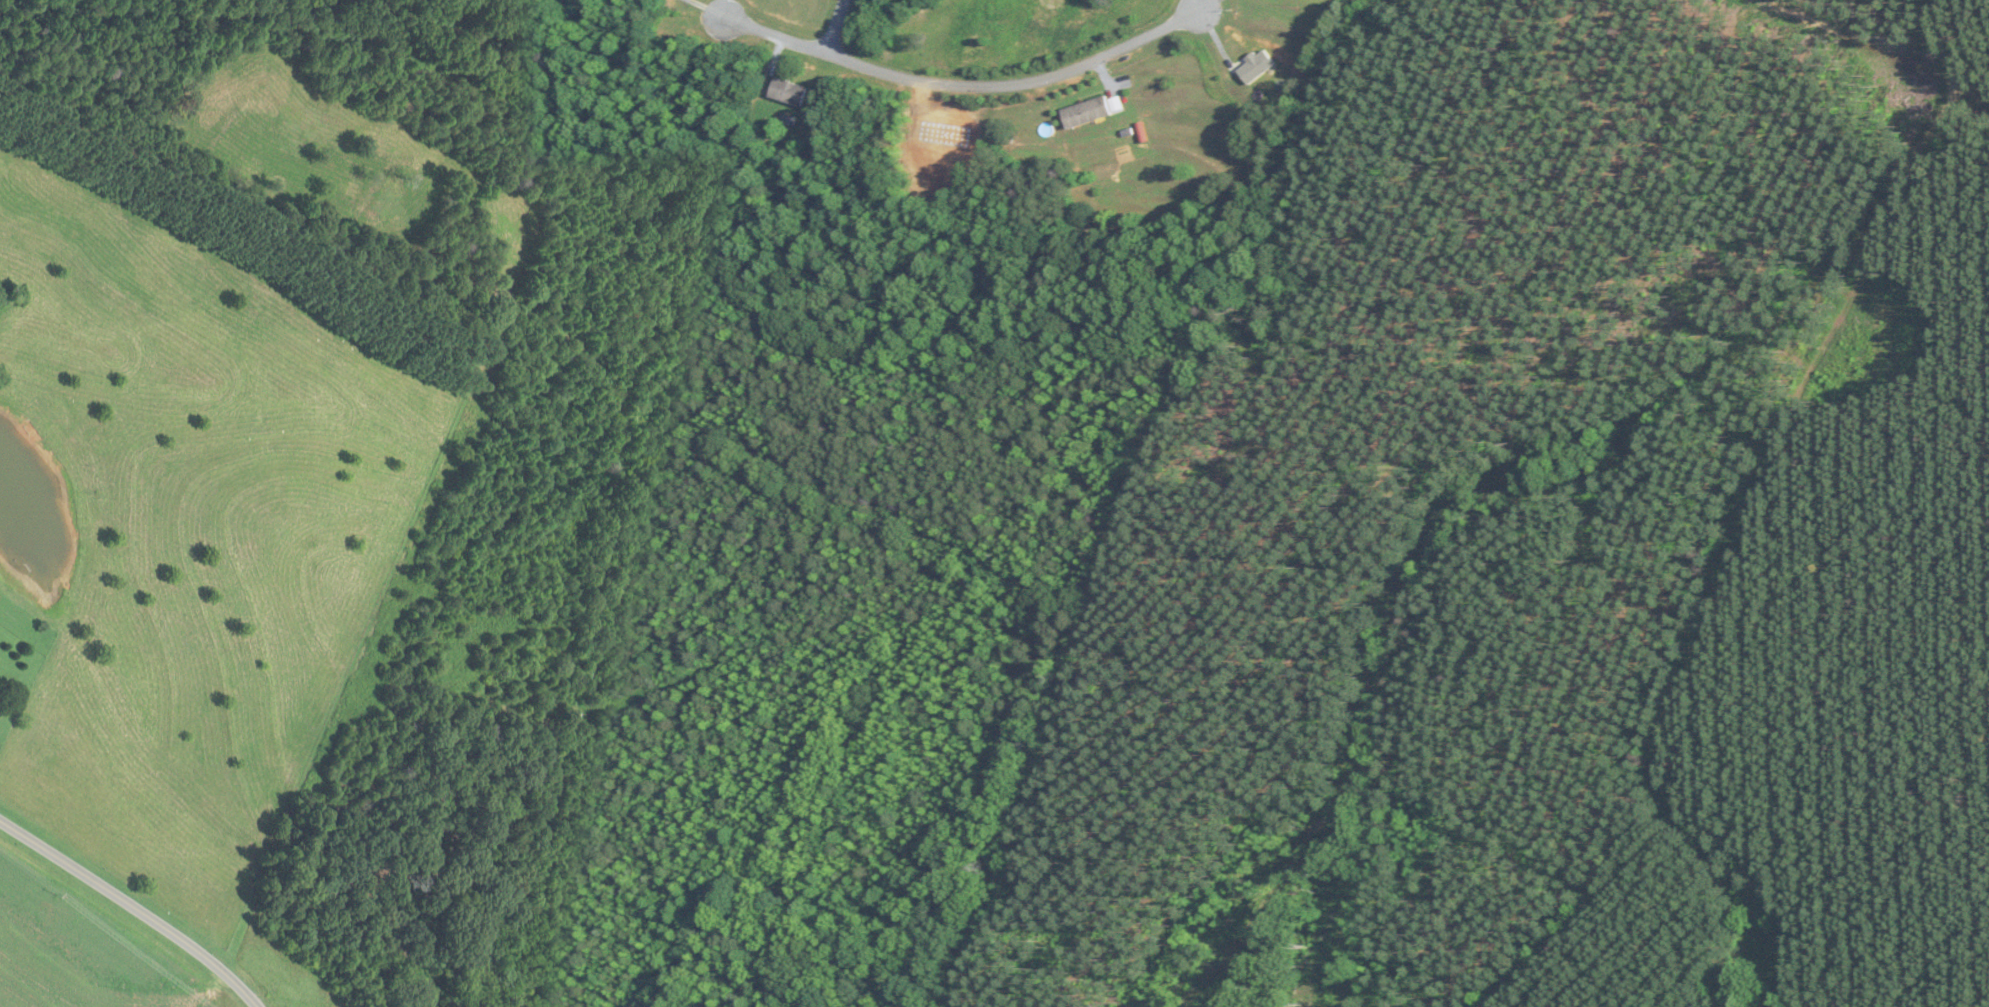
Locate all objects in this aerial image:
road: (809, 43)
road: (1023, 85)
building: (788, 92)
building: (1087, 113)
road: (136, 908)
building: (425, 963)

